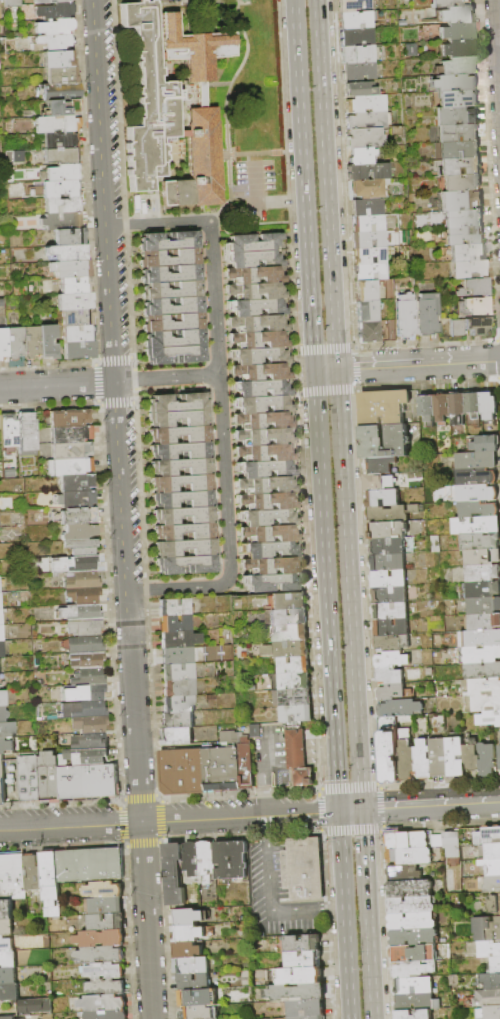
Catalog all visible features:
parking lot: (148, 0)
building: (49, 1)
building: (11, 3)
building: (449, 3)
building: (354, 5)
building: (52, 10)
building: (458, 14)
building: (357, 21)
building: (52, 26)
building: (458, 32)
building: (432, 33)
road: (497, 36)
building: (358, 38)
building: (52, 42)
building: (195, 47)
building: (459, 49)
building: (359, 54)
building: (56, 58)
building: (459, 66)
building: (360, 72)
building: (59, 75)
building: (454, 83)
building: (358, 89)
road: (225, 96)
building: (457, 99)
building: (150, 100)
building: (64, 103)
building: (366, 104)
building: (455, 116)
building: (370, 120)
building: (57, 124)
building: (453, 133)
building: (366, 138)
building: (59, 148)
road: (290, 150)
building: (457, 150)
road: (248, 151)
road: (223, 153)
building: (203, 156)
building: (362, 156)
road: (246, 160)
building: (457, 166)
building: (368, 171)
building: (62, 172)
road: (254, 181)
building: (462, 182)
road: (324, 184)
parking lot: (253, 185)
road: (303, 185)
building: (369, 188)
building: (176, 194)
building: (60, 197)
road: (239, 198)
road: (280, 199)
building: (460, 201)
building: (369, 208)
road: (213, 217)
building: (463, 219)
building: (61, 221)
road: (274, 221)
road: (157, 223)
building: (369, 224)
building: (69, 236)
building: (464, 236)
building: (371, 240)
building: (168, 242)
building: (253, 244)
building: (66, 252)
building: (468, 252)
building: (370, 256)
building: (169, 258)
building: (256, 260)
building: (69, 270)
building: (468, 270)
building: (372, 272)
building: (169, 274)
building: (256, 277)
building: (73, 286)
building: (473, 288)
building: (366, 290)
building: (171, 291)
building: (260, 293)
road: (214, 298)
building: (74, 302)
building: (172, 307)
building: (472, 307)
building: (257, 309)
building: (368, 311)
building: (428, 314)
building: (405, 315)
building: (74, 318)
building: (173, 324)
building: (258, 326)
building: (471, 327)
building: (369, 332)
building: (76, 333)
road: (113, 334)
building: (49, 340)
building: (31, 341)
building: (174, 341)
building: (259, 342)
building: (3, 343)
building: (15, 343)
building: (78, 350)
building: (175, 357)
building: (259, 358)
road: (113, 360)
road: (47, 363)
road: (417, 364)
road: (324, 369)
traffic signals: (335, 369)
traffic signals: (313, 370)
building: (260, 374)
road: (167, 377)
road: (132, 379)
road: (95, 381)
road: (58, 385)
building: (260, 391)
road: (115, 402)
road: (48, 404)
building: (179, 404)
building: (490, 406)
building: (261, 407)
building: (384, 408)
building: (443, 408)
building: (459, 408)
building: (474, 408)
building: (428, 409)
building: (69, 420)
building: (176, 421)
building: (264, 423)
building: (8, 432)
building: (25, 434)
building: (70, 435)
building: (177, 438)
building: (266, 439)
building: (384, 442)
building: (484, 444)
building: (71, 452)
building: (178, 454)
building: (267, 455)
building: (476, 460)
building: (382, 465)
building: (72, 468)
building: (179, 470)
building: (268, 471)
building: (475, 477)
building: (379, 482)
road: (225, 483)
building: (75, 484)
building: (180, 486)
building: (269, 487)
road: (138, 489)
building: (477, 493)
building: (383, 498)
building: (76, 500)
building: (181, 502)
building: (270, 504)
building: (477, 509)
building: (387, 515)
building: (77, 516)
building: (182, 519)
building: (271, 520)
building: (475, 525)
building: (388, 530)
building: (78, 532)
building: (182, 535)
building: (272, 536)
building: (479, 541)
building: (387, 546)
building: (78, 548)
building: (183, 551)
building: (273, 552)
building: (482, 557)
building: (388, 562)
building: (79, 565)
building: (184, 568)
building: (274, 568)
building: (482, 573)
building: (389, 579)
building: (80, 581)
building: (267, 585)
road: (143, 588)
road: (172, 588)
road: (347, 588)
road: (325, 590)
building: (483, 590)
building: (390, 595)
building: (81, 597)
road: (108, 601)
building: (286, 602)
building: (484, 606)
building: (173, 609)
building: (391, 611)
building: (81, 613)
building: (287, 619)
building: (483, 622)
building: (174, 625)
building: (391, 628)
building: (82, 629)
building: (288, 634)
building: (0, 635)
building: (479, 639)
building: (175, 640)
building: (392, 644)
building: (82, 646)
building: (289, 648)
building: (0, 649)
building: (479, 655)
building: (175, 656)
building: (391, 660)
building: (84, 662)
building: (290, 664)
building: (482, 671)
building: (177, 673)
building: (390, 677)
building: (85, 678)
building: (292, 681)
building: (485, 687)
building: (178, 688)
building: (391, 692)
building: (85, 695)
building: (293, 697)
building: (1, 698)
road: (150, 698)
building: (486, 703)
building: (178, 705)
building: (401, 708)
building: (81, 712)
building: (0, 714)
building: (293, 714)
building: (489, 719)
building: (178, 721)
building: (87, 726)
building: (1, 731)
building: (177, 738)
building: (87, 742)
road: (292, 743)
building: (5, 745)
road: (308, 747)
road: (277, 748)
road: (324, 750)
building: (389, 750)
road: (308, 751)
road: (278, 752)
road: (293, 752)
road: (267, 753)
building: (499, 754)
road: (308, 755)
road: (278, 756)
building: (472, 756)
parking lot: (270, 757)
building: (407, 757)
building: (439, 757)
building: (455, 757)
building: (81, 758)
building: (296, 758)
road: (293, 760)
building: (424, 760)
building: (488, 760)
building: (1, 764)
building: (243, 765)
building: (219, 769)
building: (180, 771)
building: (2, 777)
building: (47, 777)
building: (28, 779)
building: (99, 782)
building: (70, 783)
road: (264, 783)
building: (2, 793)
road: (137, 799)
road: (59, 802)
road: (429, 805)
traffic signals: (359, 809)
road: (348, 810)
traffic signals: (338, 811)
road: (301, 812)
road: (157, 819)
road: (120, 821)
road: (132, 822)
road: (265, 829)
building: (488, 836)
road: (141, 840)
building: (415, 840)
road: (141, 844)
building: (452, 844)
road: (61, 846)
building: (491, 851)
building: (397, 857)
building: (189, 858)
building: (205, 860)
building: (229, 860)
building: (90, 864)
building: (492, 867)
building: (302, 869)
building: (33, 873)
building: (404, 873)
building: (172, 874)
building: (13, 876)
road: (267, 876)
building: (51, 883)
building: (492, 885)
building: (410, 888)
building: (104, 890)
parking lot: (276, 896)
building: (495, 904)
building: (412, 905)
building: (106, 906)
road: (329, 907)
road: (292, 908)
building: (6, 910)
road: (365, 913)
road: (343, 915)
building: (189, 918)
building: (106, 922)
building: (413, 922)
building: (7, 928)
building: (487, 929)
building: (190, 933)
building: (414, 937)
building: (101, 939)
building: (304, 944)
building: (6, 945)
building: (188, 950)
building: (489, 950)
building: (414, 954)
building: (100, 955)
building: (8, 960)
building: (305, 960)
building: (194, 966)
building: (494, 966)
building: (414, 970)
building: (106, 971)
building: (299, 975)
building: (8, 976)
building: (194, 982)
building: (490, 982)
building: (414, 986)
building: (106, 988)
building: (9, 992)
building: (298, 993)
building: (197, 999)
building: (486, 999)
building: (417, 1003)
building: (103, 1004)
building: (36, 1006)
building: (307, 1008)
building: (199, 1013)
building: (489, 1013)
building: (405, 1014)
building: (107, 1015)
building: (309, 1017)
building: (7, 1018)

